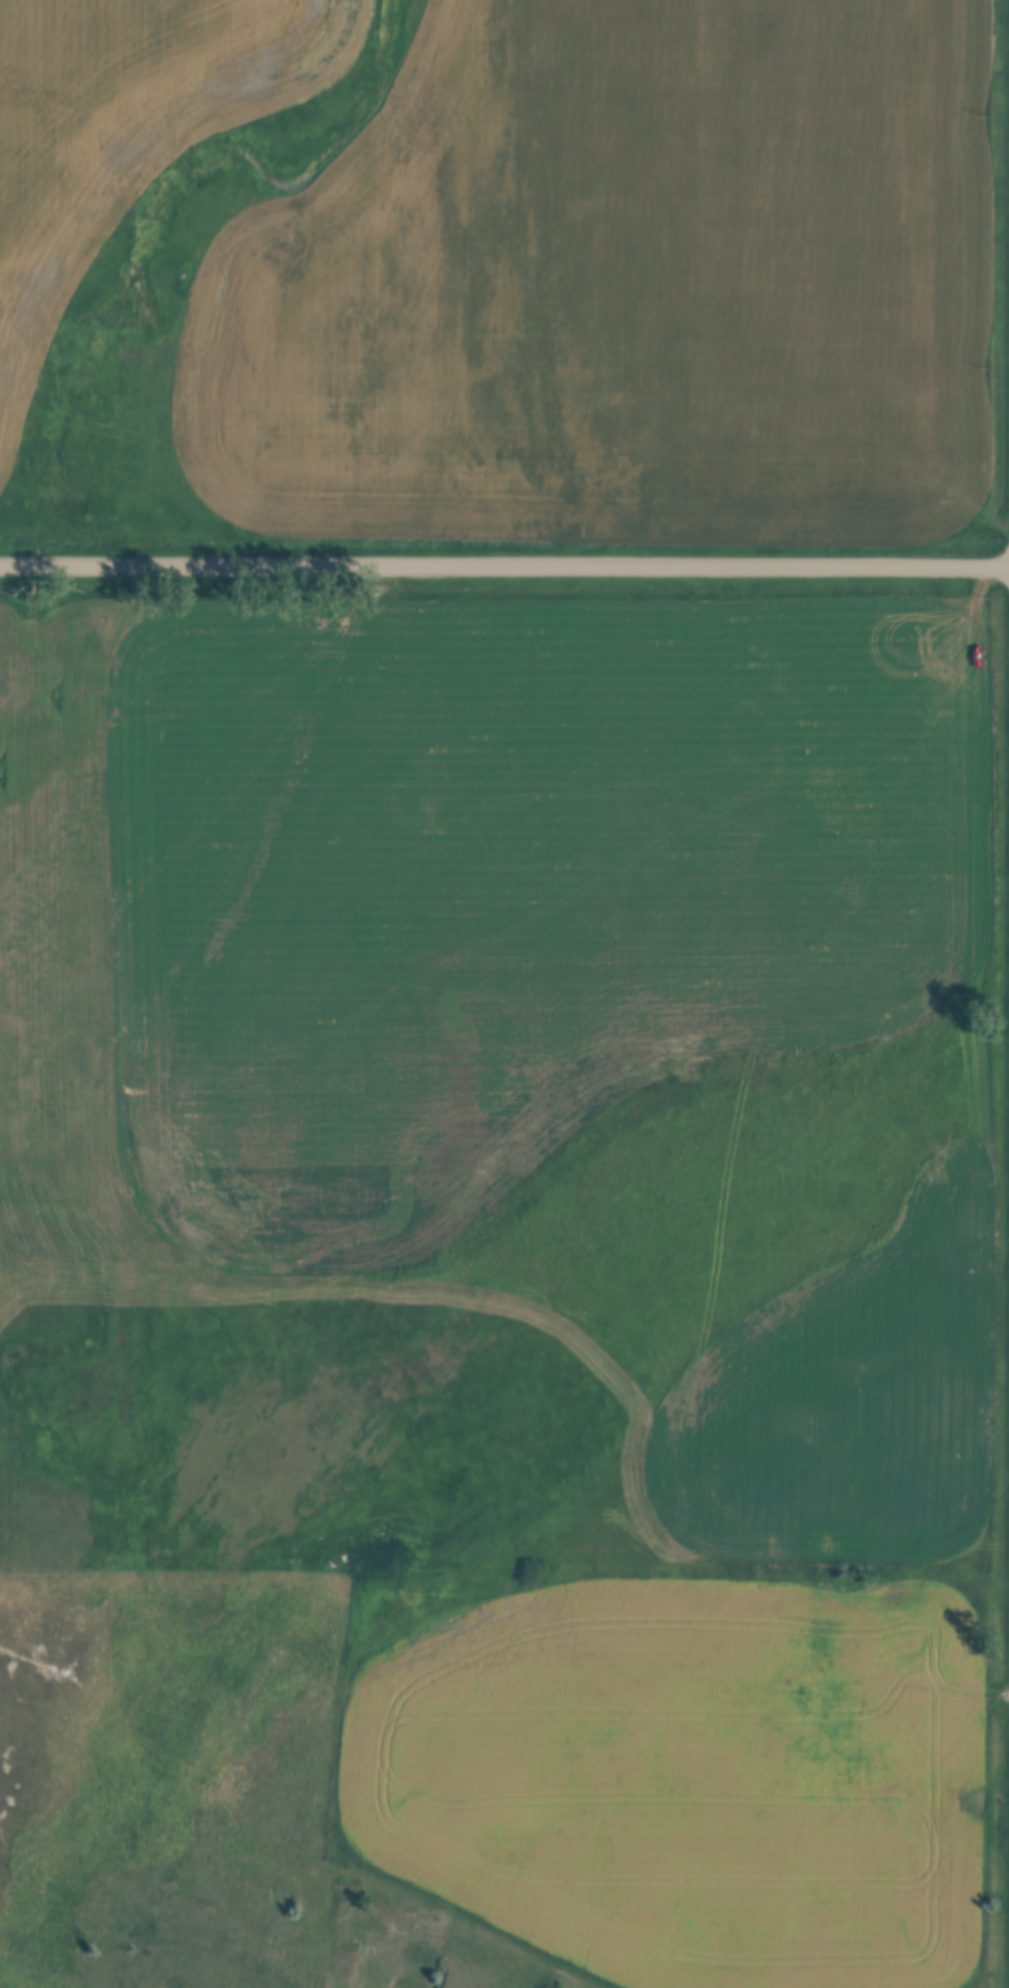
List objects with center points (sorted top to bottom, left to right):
road: (504, 566)

